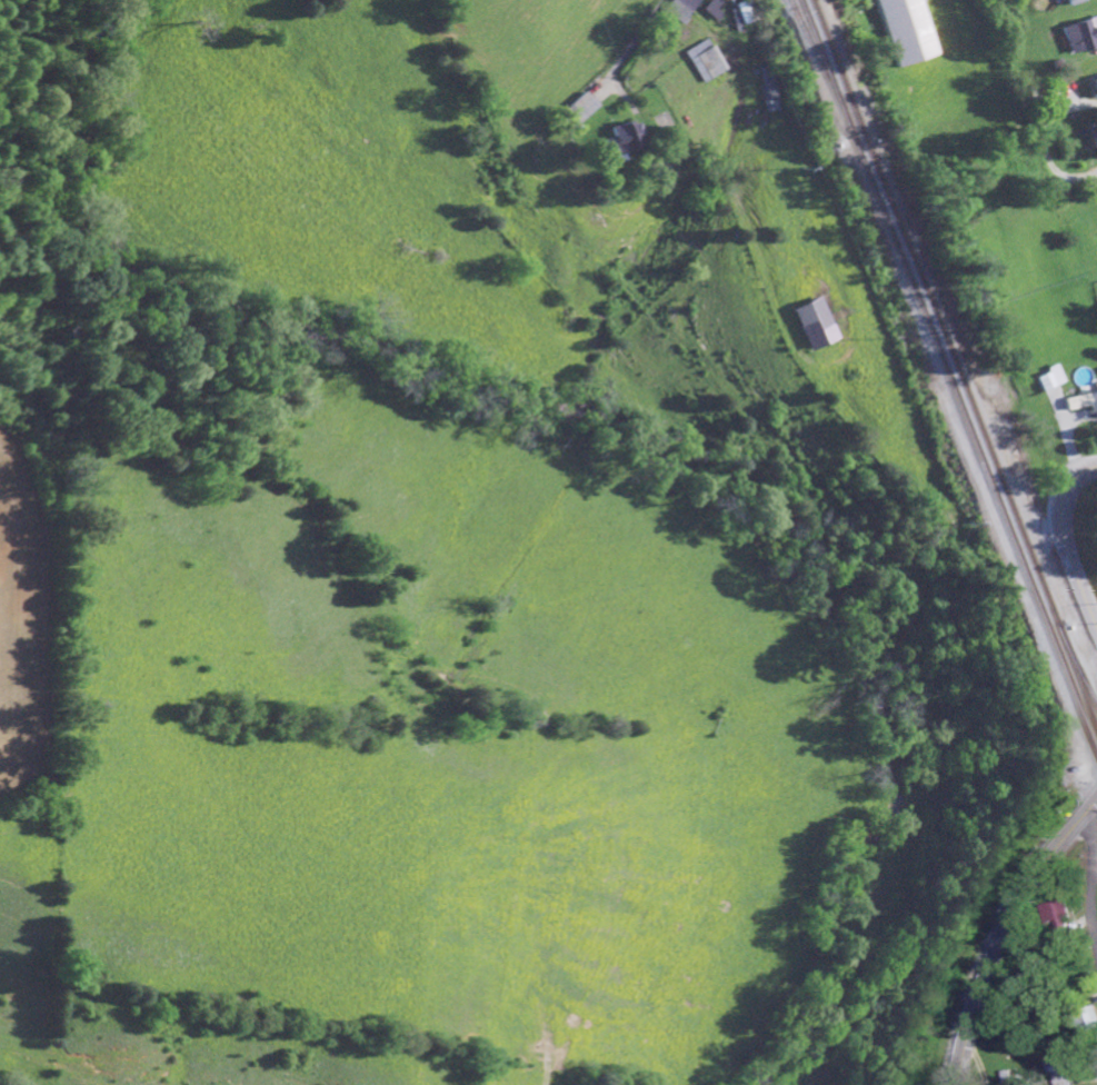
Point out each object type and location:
building: (1071, 1)
building: (681, 10)
building: (715, 10)
building: (745, 16)
building: (908, 30)
building: (1079, 34)
building: (707, 59)
railway: (815, 60)
building: (1095, 82)
building: (772, 92)
building: (580, 107)
building: (619, 139)
railway: (890, 213)
railway: (892, 245)
building: (814, 321)
building: (1044, 378)
building: (1081, 399)
road: (1065, 544)
railway: (1037, 575)
railway: (1044, 619)
railway: (1076, 664)
road: (1093, 870)
building: (1058, 914)
road: (1010, 933)
building: (1087, 1018)
building: (1061, 1072)

